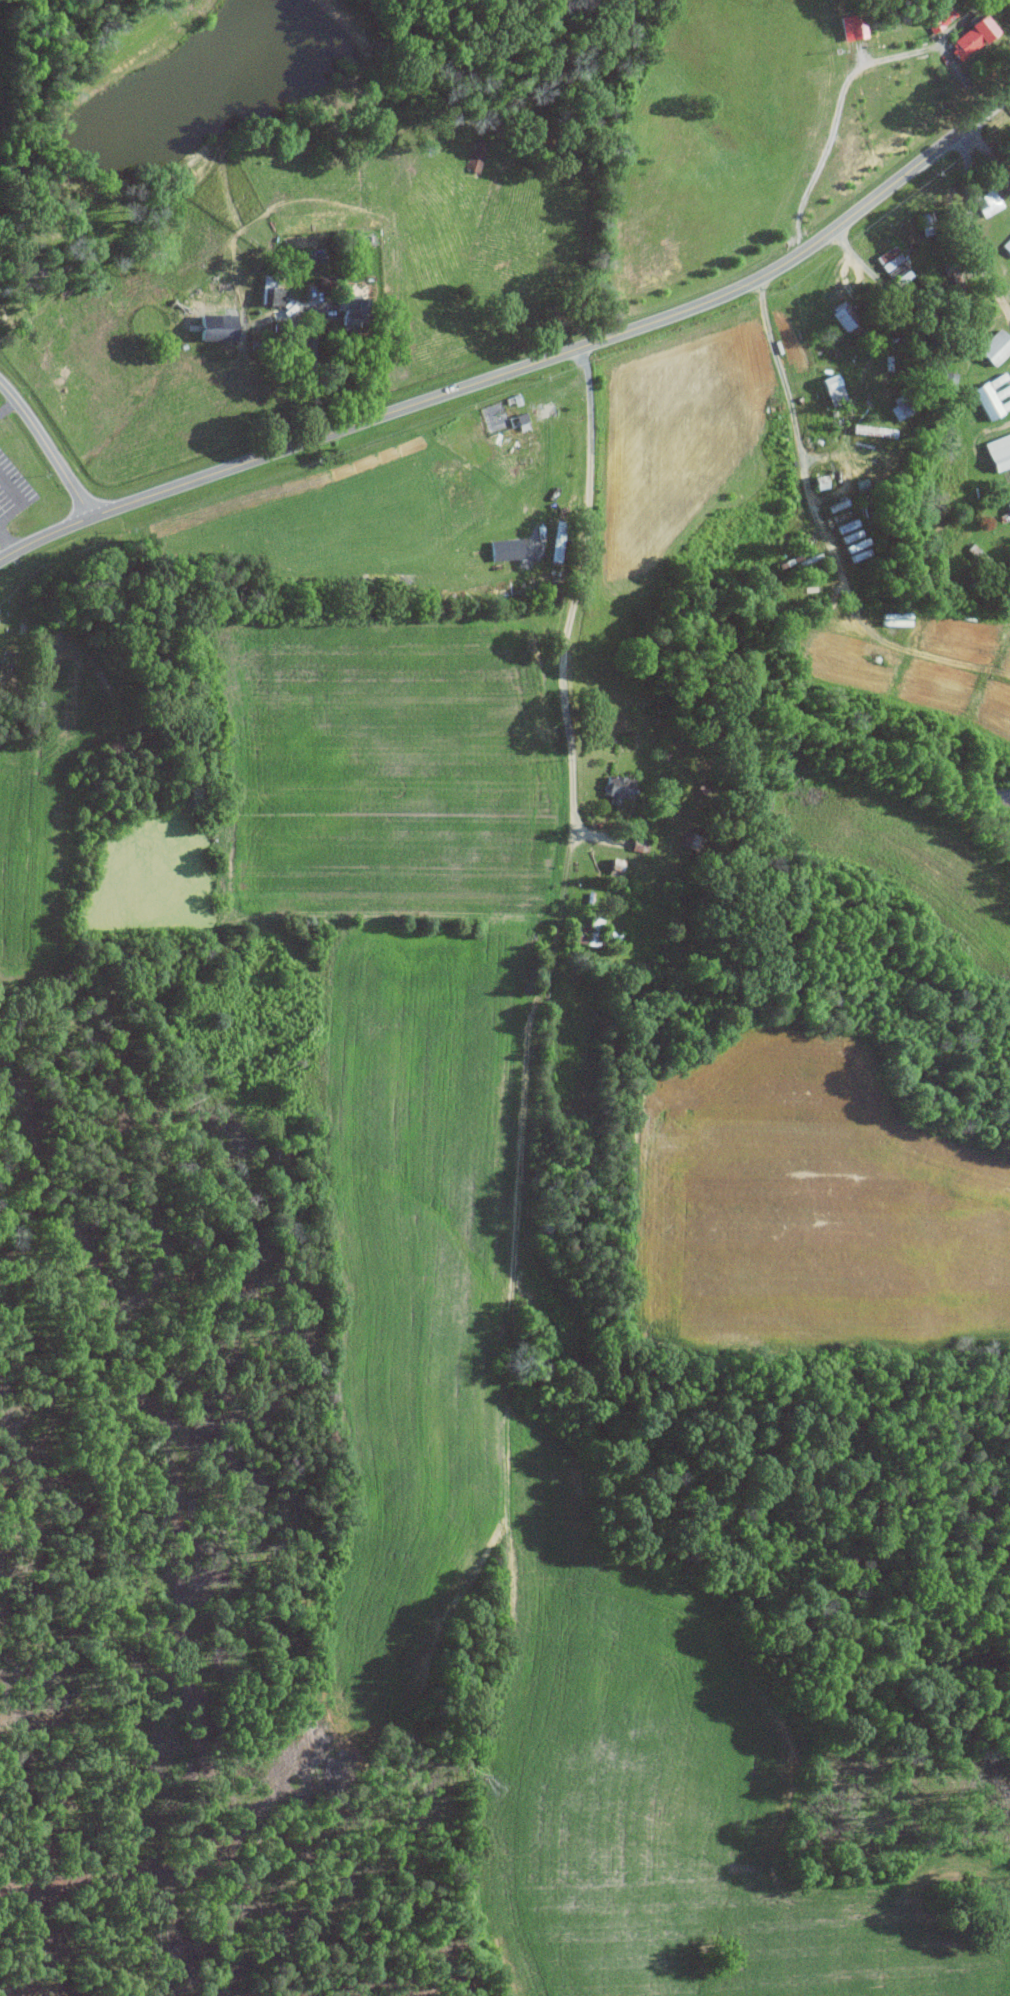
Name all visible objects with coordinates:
building: (939, 17)
building: (856, 23)
building: (971, 37)
road: (848, 81)
road: (988, 155)
building: (987, 201)
road: (970, 229)
building: (1007, 244)
road: (864, 263)
building: (894, 265)
building: (266, 288)
road: (1007, 297)
building: (349, 311)
building: (214, 326)
building: (994, 346)
road: (525, 366)
road: (316, 378)
building: (832, 389)
building: (992, 395)
road: (6, 402)
building: (898, 407)
road: (796, 421)
road: (49, 447)
building: (998, 451)
road: (22, 499)
building: (1008, 504)
road: (9, 540)
road: (566, 647)
building: (617, 788)
building: (587, 932)

